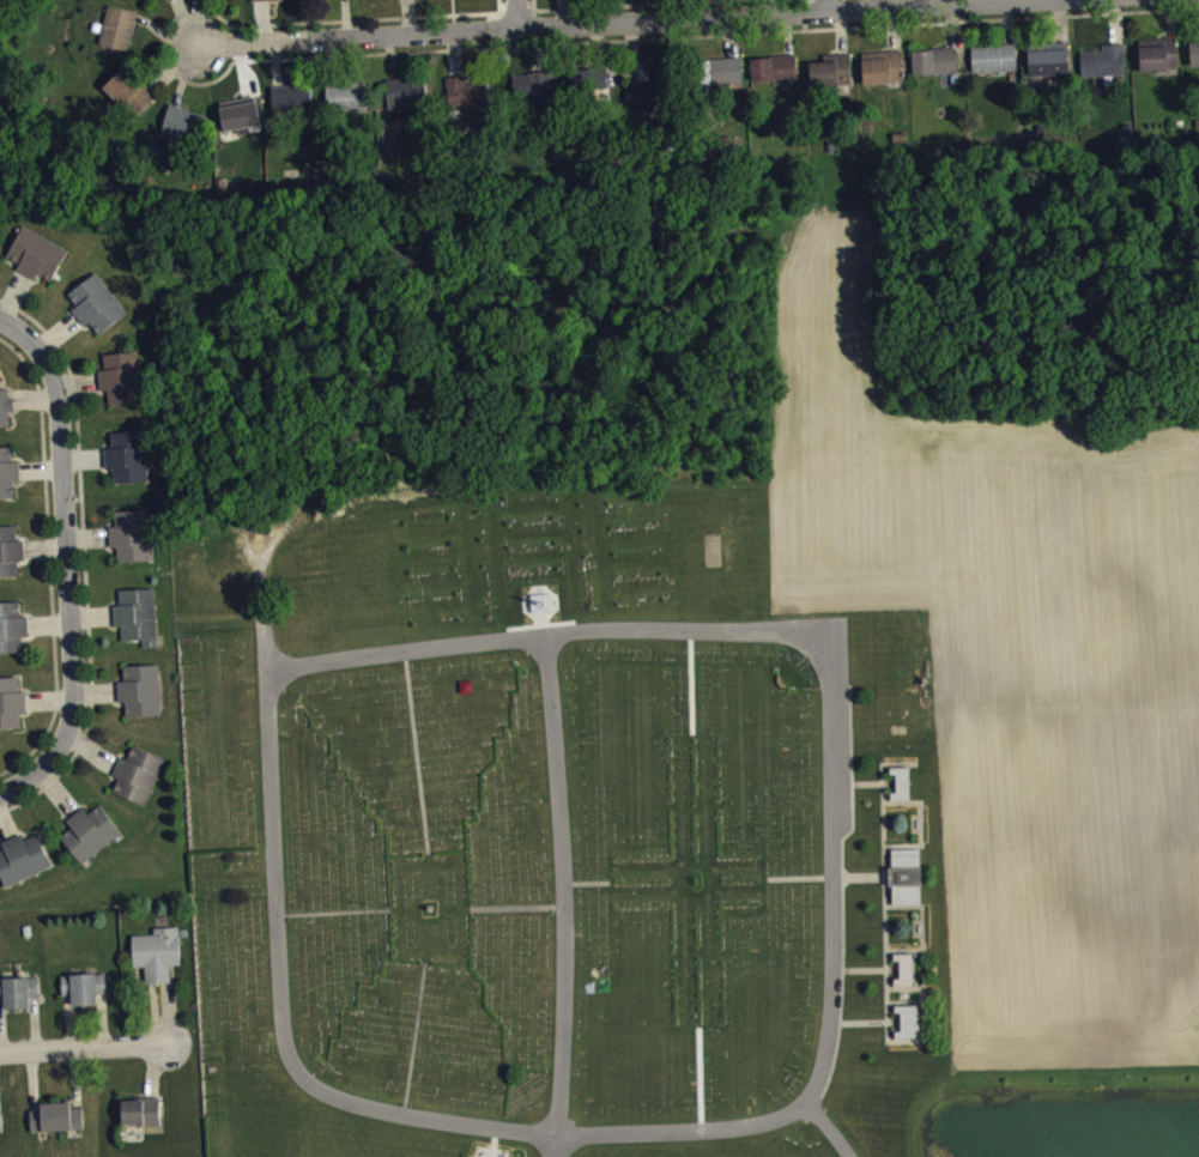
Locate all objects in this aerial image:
building: (138, 0)
building: (151, 0)
building: (320, 0)
building: (374, 0)
building: (271, 4)
road: (824, 6)
road: (520, 13)
road: (606, 22)
building: (120, 36)
building: (1195, 61)
building: (1159, 62)
building: (995, 66)
building: (1052, 68)
building: (937, 69)
building: (1106, 69)
building: (775, 75)
building: (884, 75)
building: (725, 79)
building: (832, 79)
building: (589, 90)
building: (535, 98)
building: (653, 98)
building: (129, 101)
building: (408, 101)
building: (467, 101)
building: (347, 104)
building: (292, 108)
building: (243, 127)
building: (184, 132)
building: (38, 262)
building: (98, 313)
building: (122, 386)
building: (6, 413)
building: (129, 465)
building: (8, 481)
building: (134, 544)
building: (11, 559)
road: (67, 562)
building: (139, 624)
road: (543, 632)
building: (13, 636)
crop: (1013, 664)
road: (691, 680)
building: (143, 698)
building: (12, 710)
road: (416, 751)
road: (856, 782)
building: (139, 783)
building: (901, 783)
road: (921, 820)
building: (91, 841)
building: (23, 867)
road: (274, 873)
road: (831, 876)
building: (904, 876)
road: (825, 877)
road: (586, 880)
road: (563, 894)
road: (516, 907)
road: (333, 910)
road: (922, 926)
road: (885, 947)
building: (159, 962)
road: (859, 969)
building: (904, 969)
building: (85, 995)
building: (19, 1000)
road: (858, 1022)
building: (908, 1022)
road: (414, 1036)
road: (89, 1049)
building: (143, 1120)
building: (57, 1126)
road: (829, 1127)
building: (1, 1131)
road: (543, 1132)

